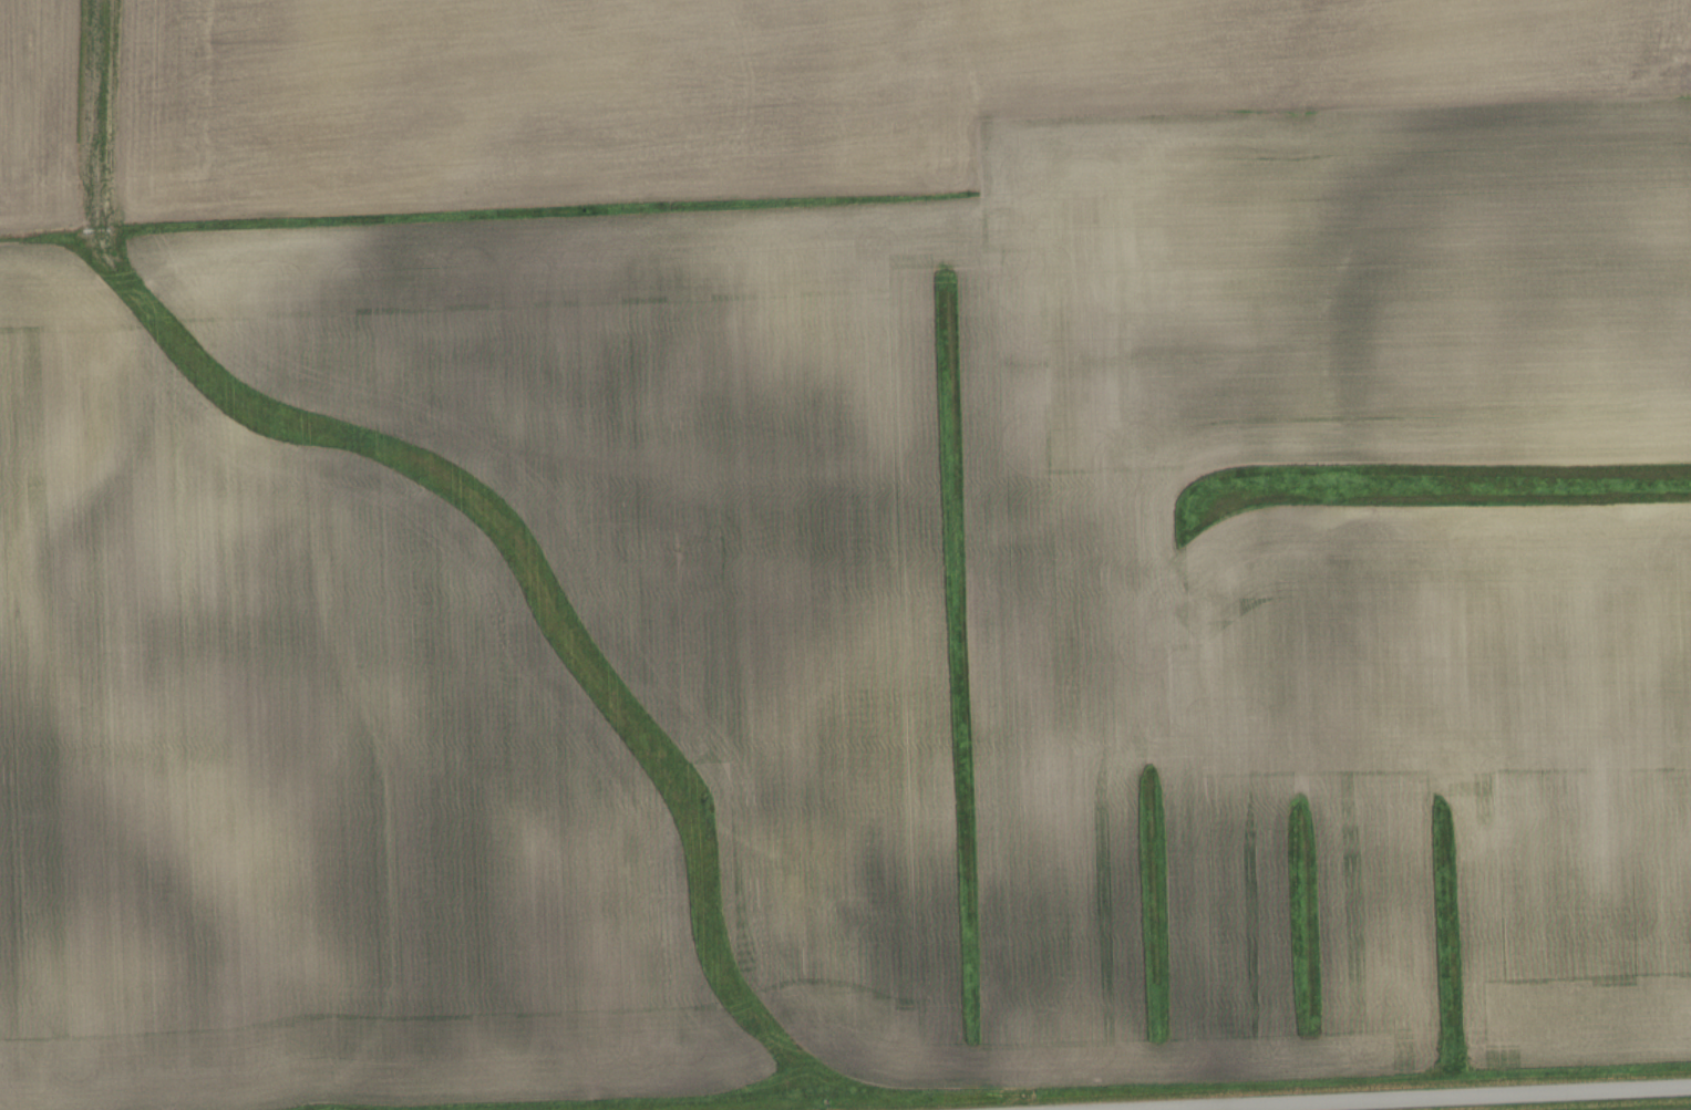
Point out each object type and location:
road: (1403, 1092)

